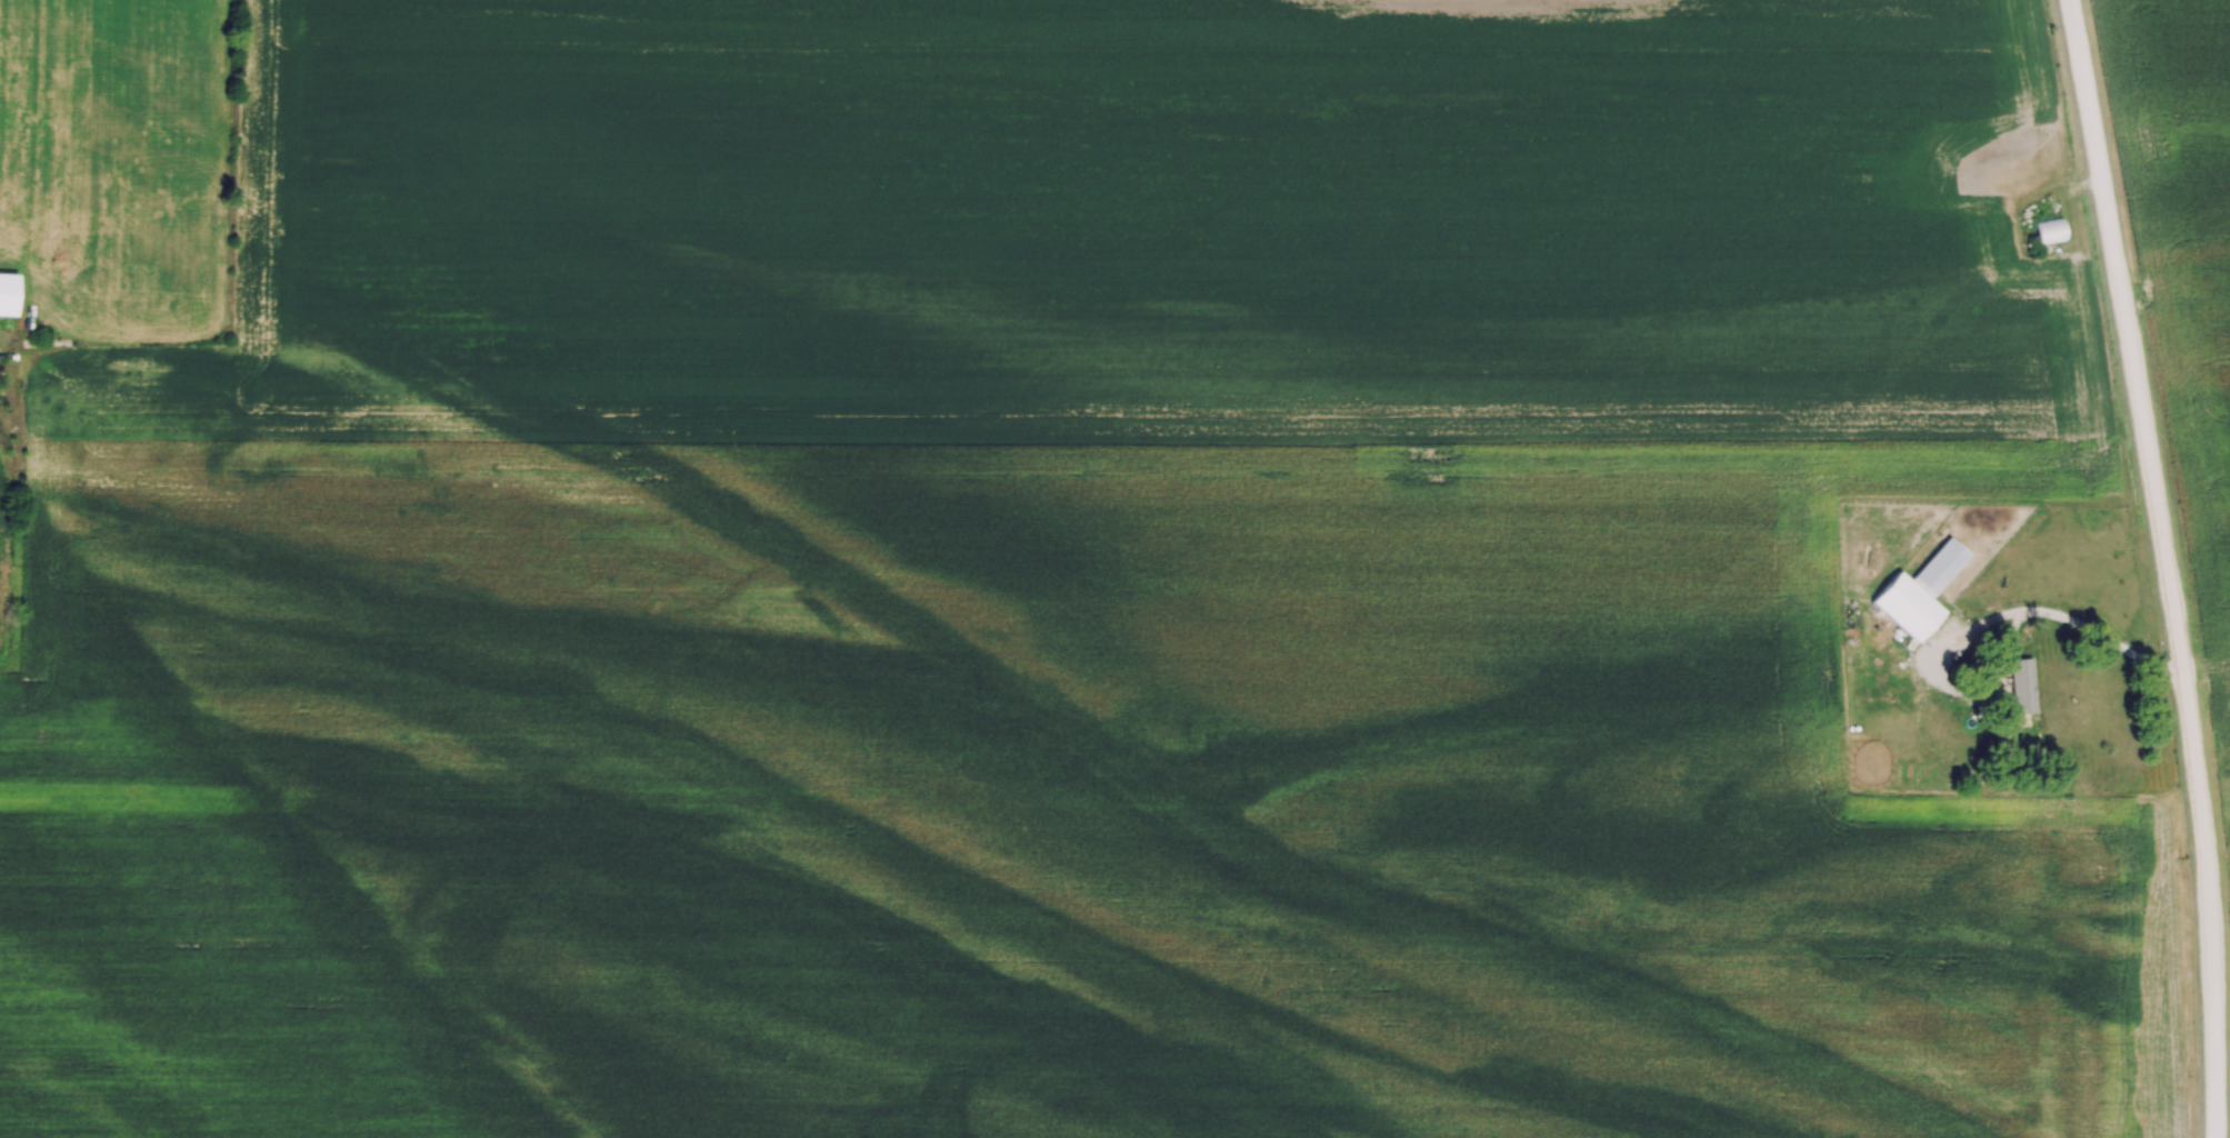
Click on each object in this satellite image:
road: (2158, 566)
road: (2078, 626)

